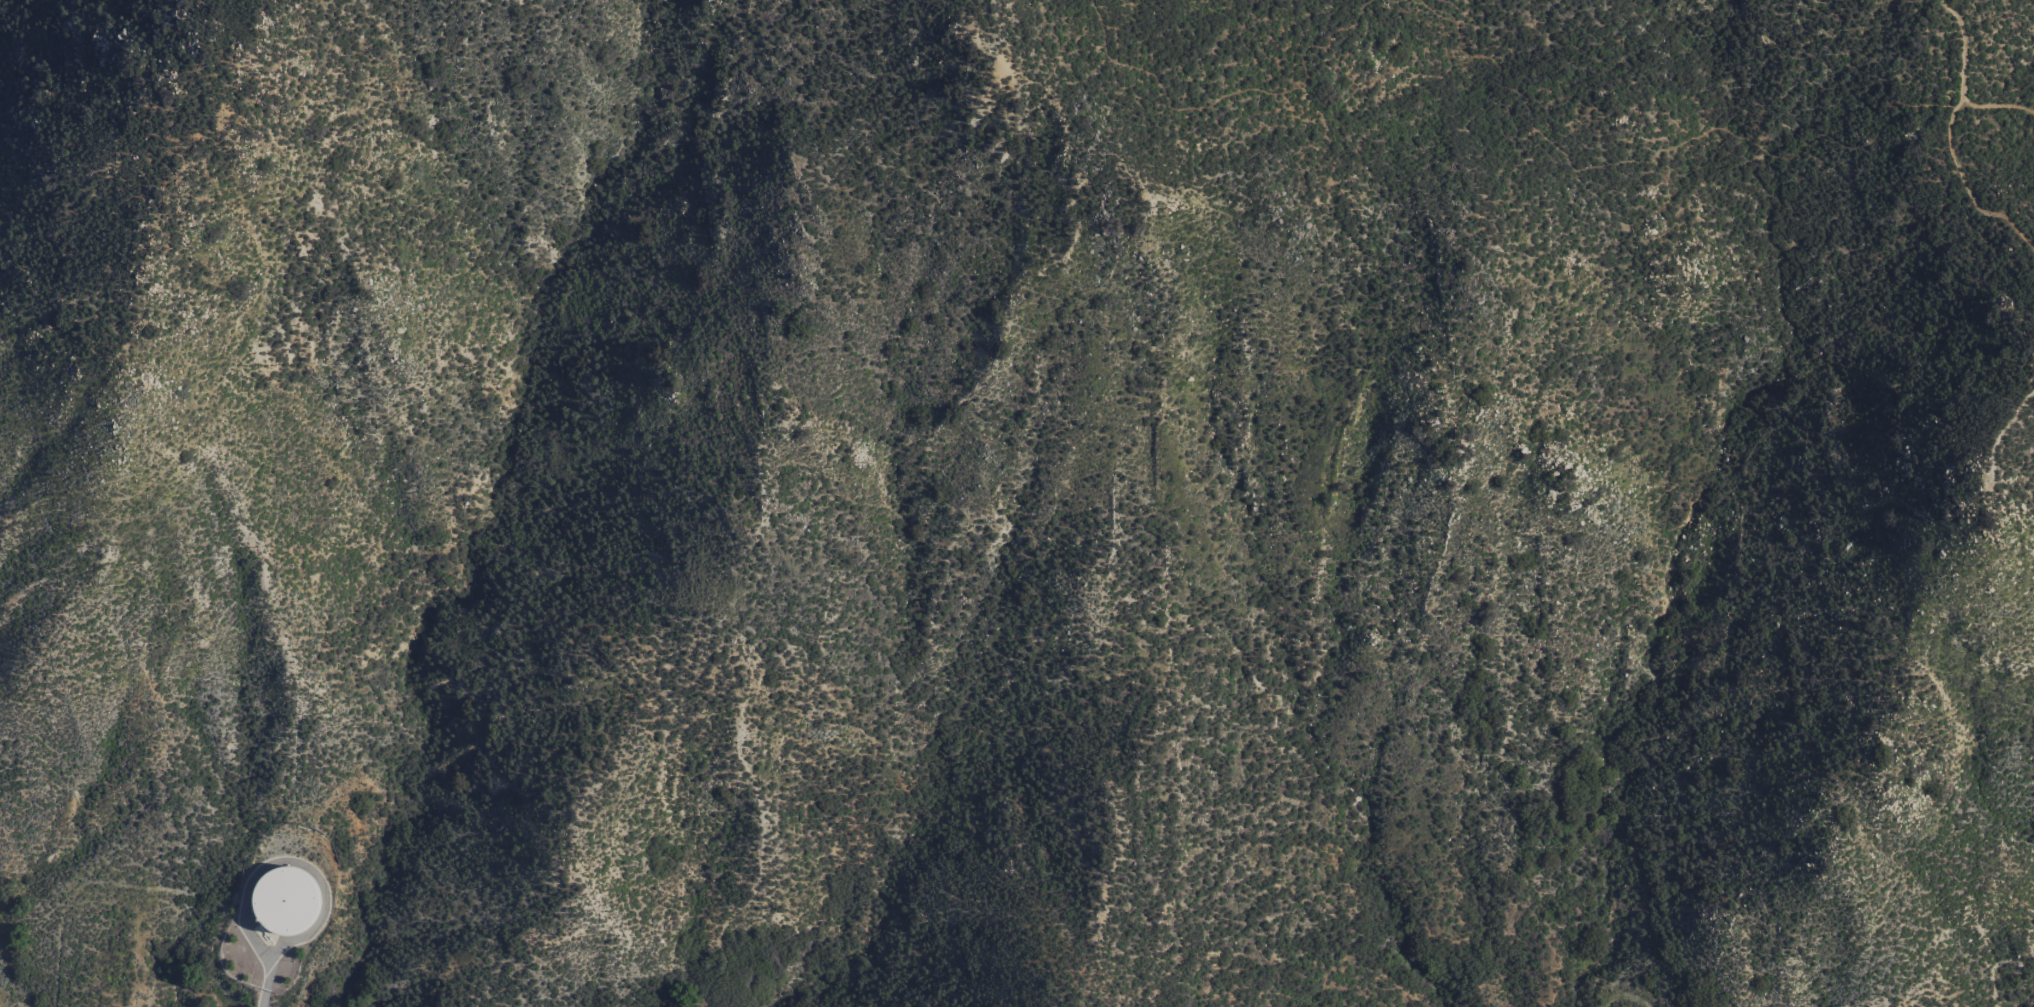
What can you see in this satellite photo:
building: (286, 900)
road: (260, 979)

